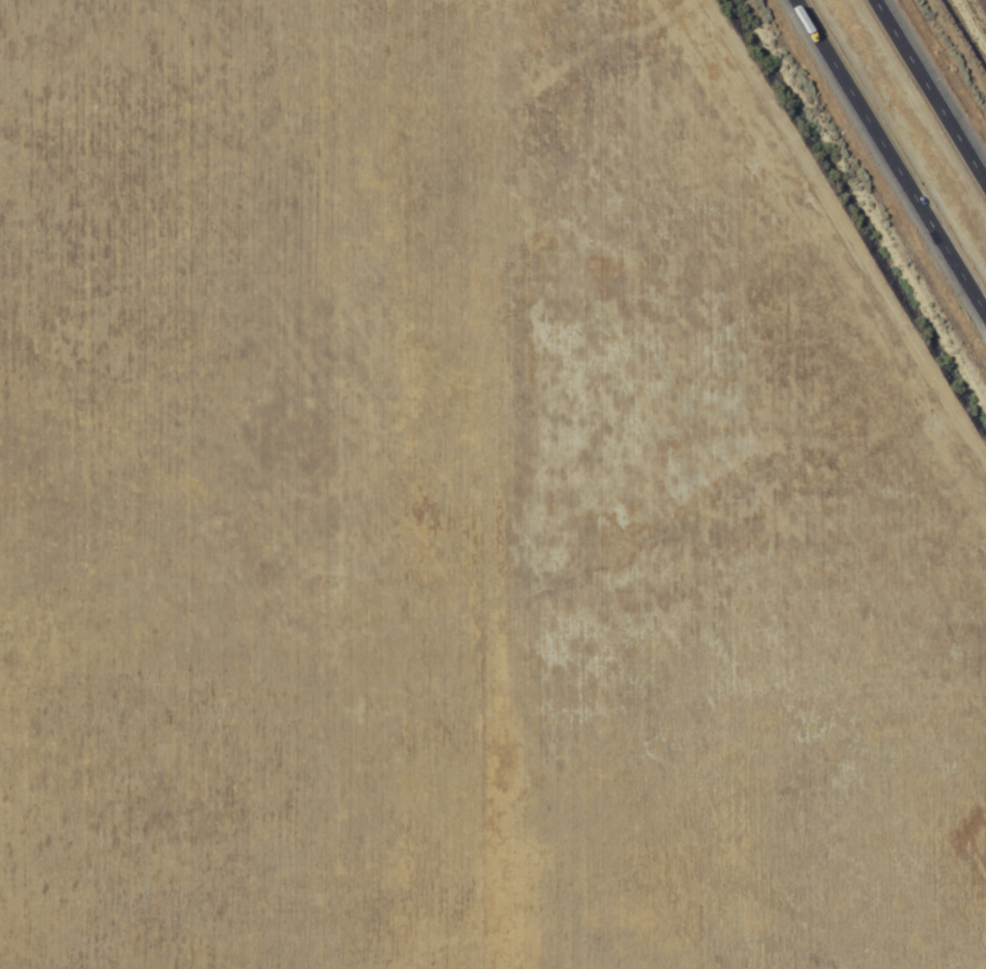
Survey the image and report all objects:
road: (933, 87)
road: (892, 154)

